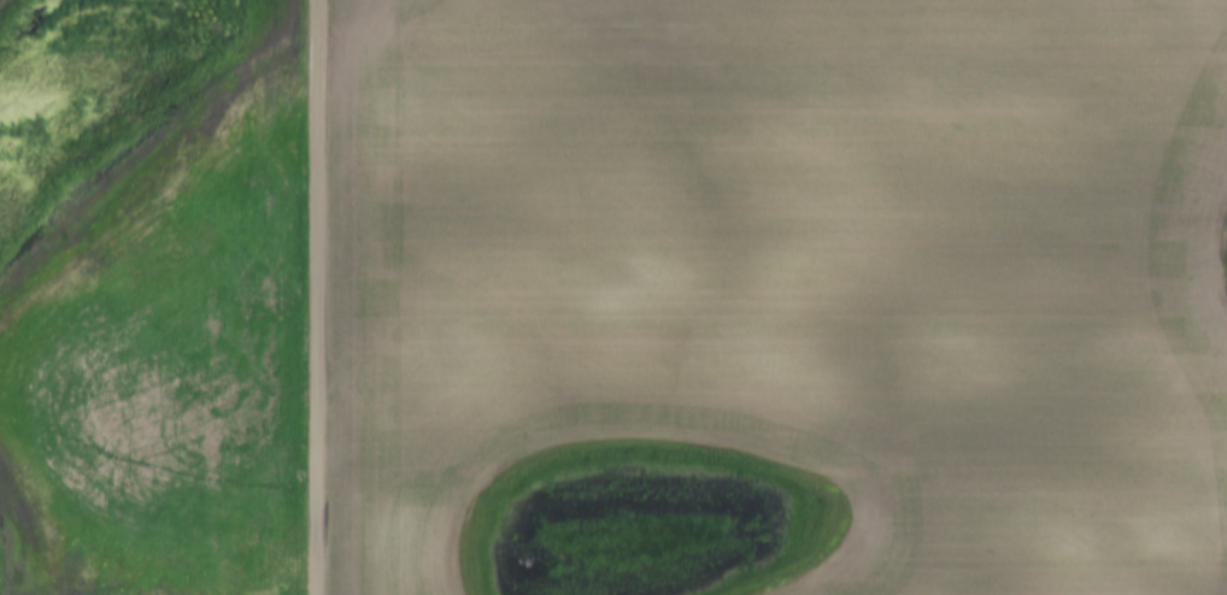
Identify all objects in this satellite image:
road: (317, 297)

